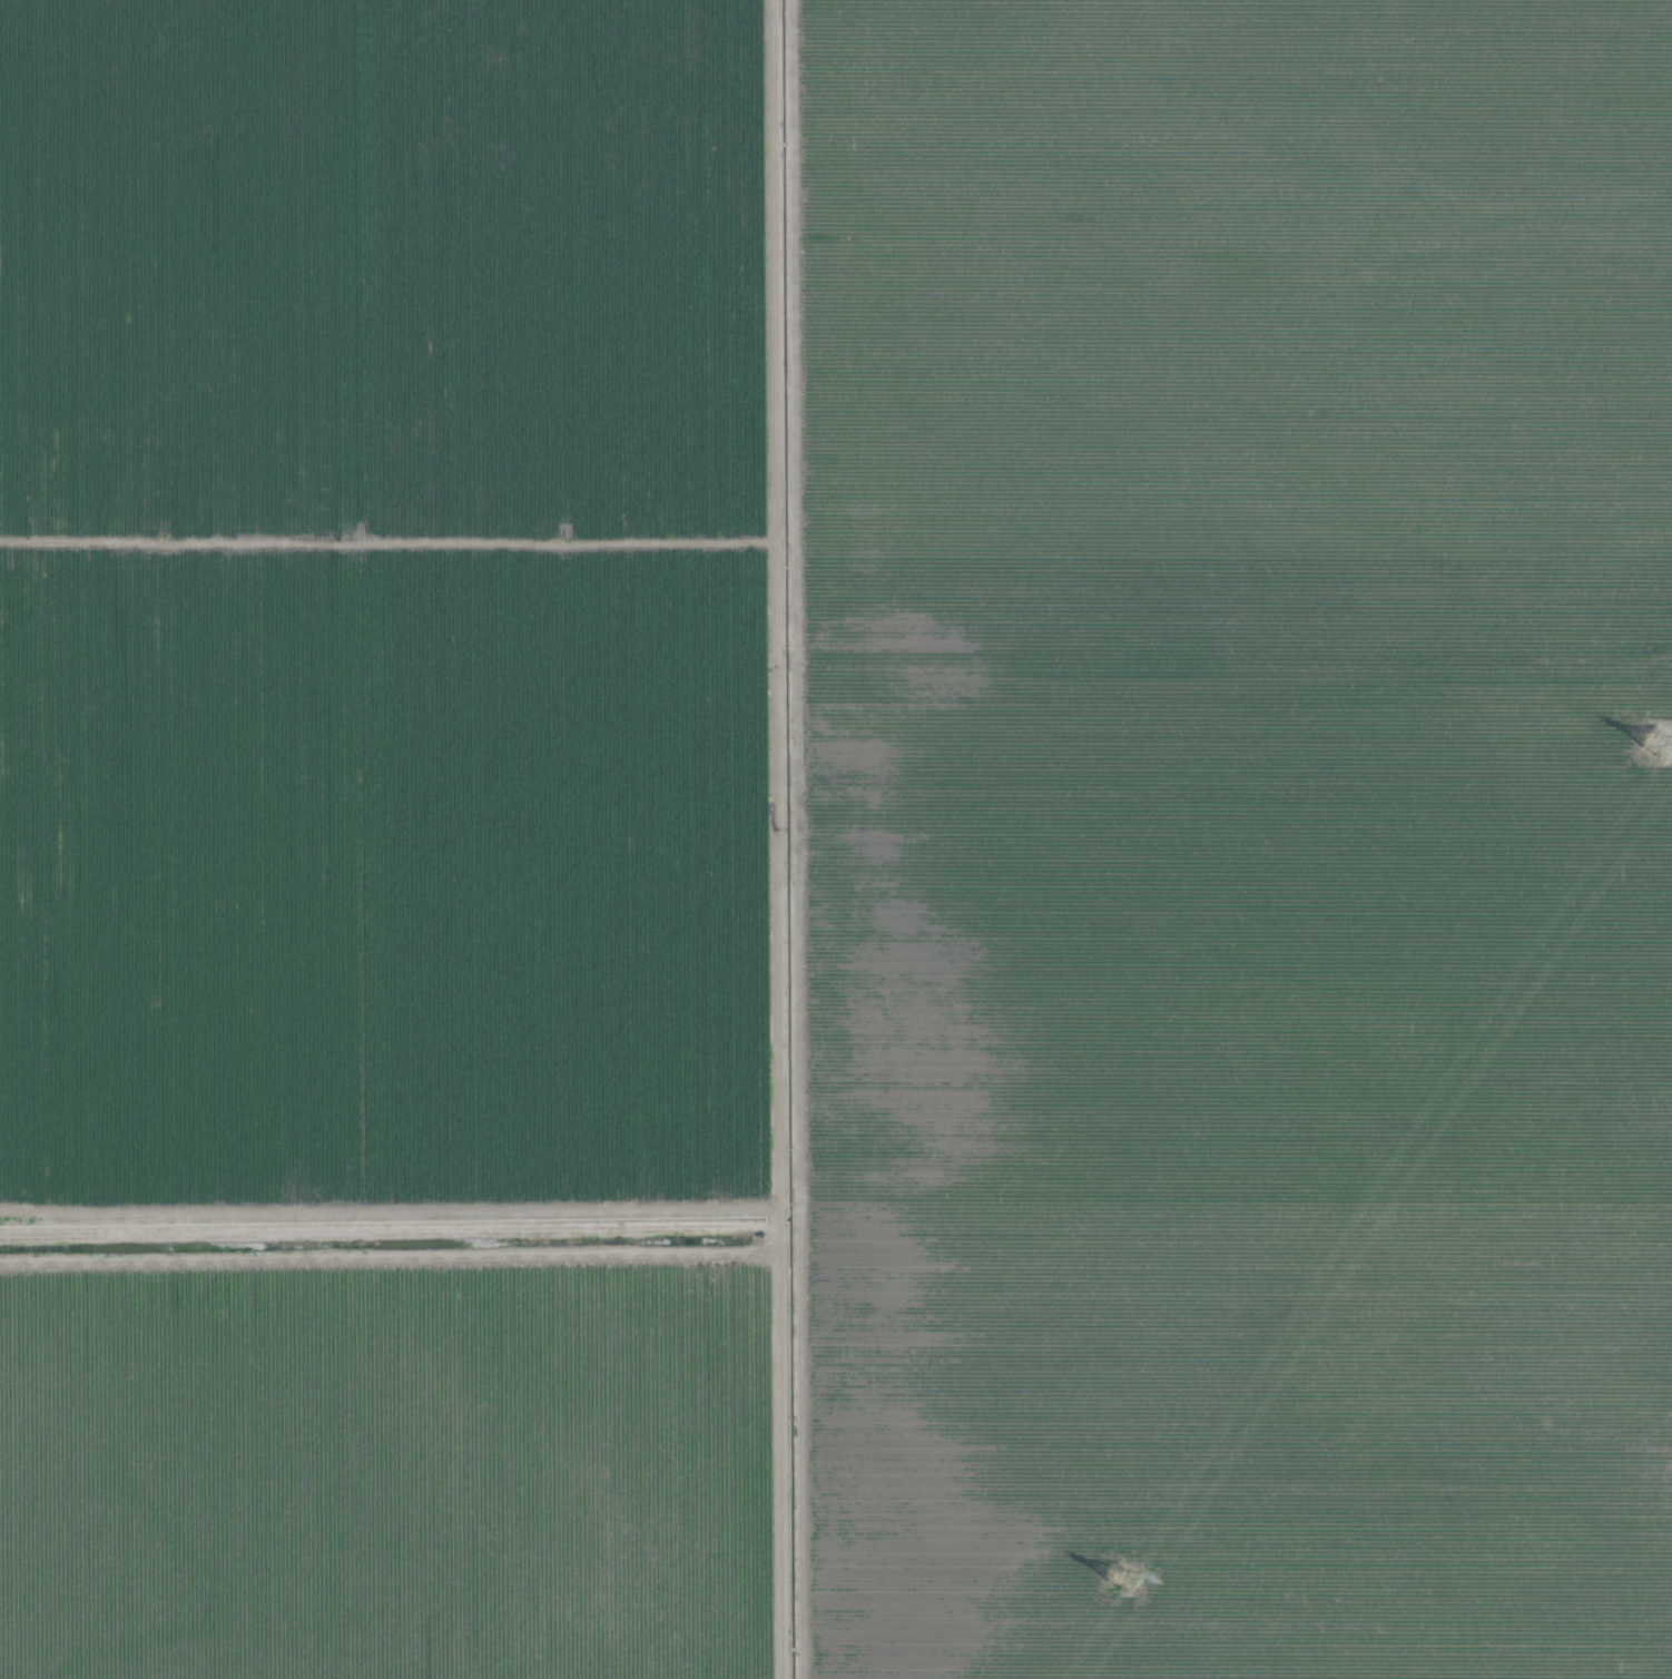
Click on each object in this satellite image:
power tower: (1128, 1585)

